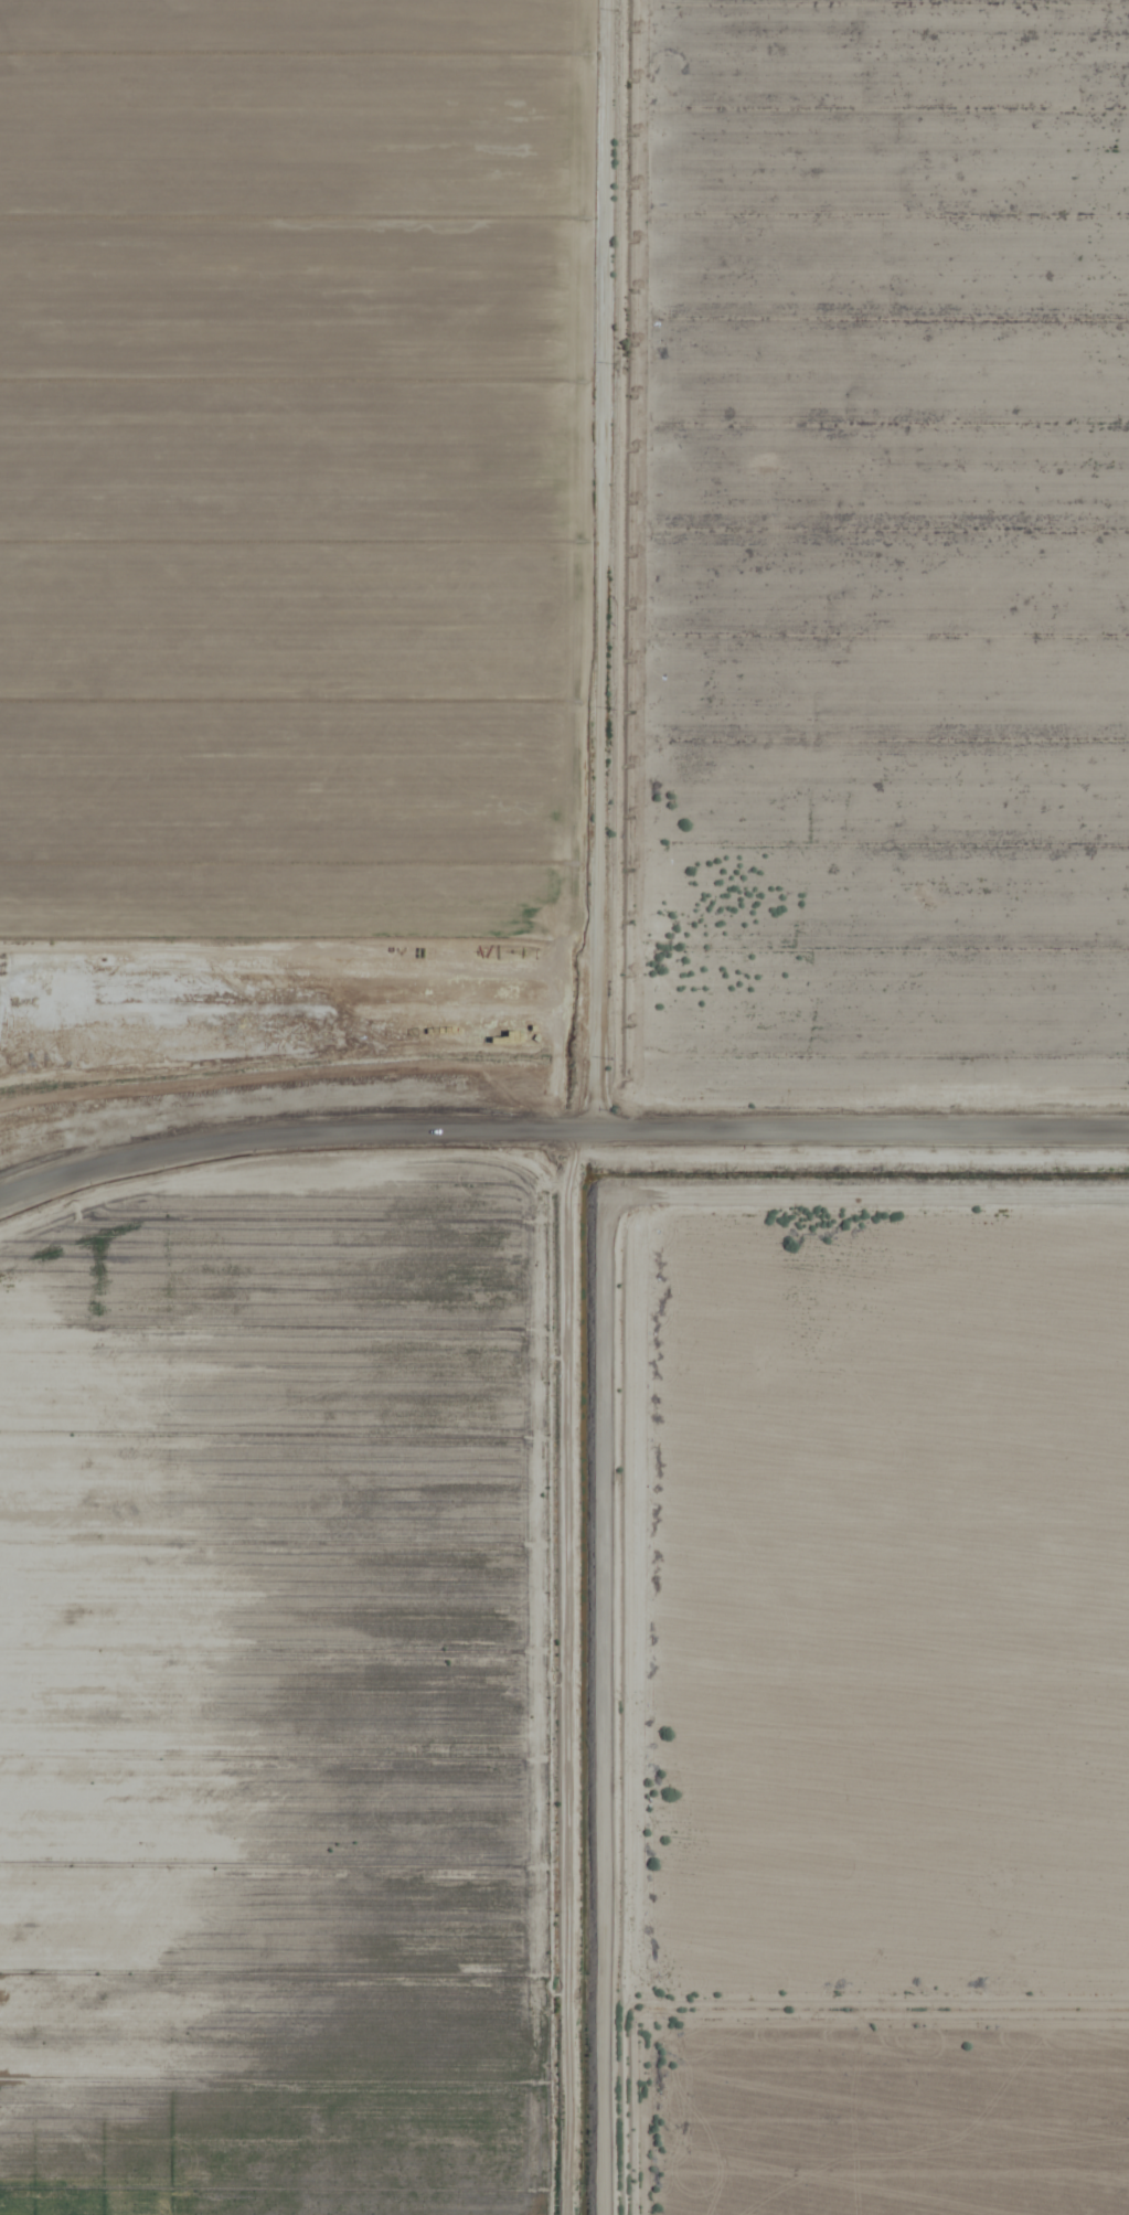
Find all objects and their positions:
road: (573, 572)
crop: (564, 1107)
road: (557, 1137)

